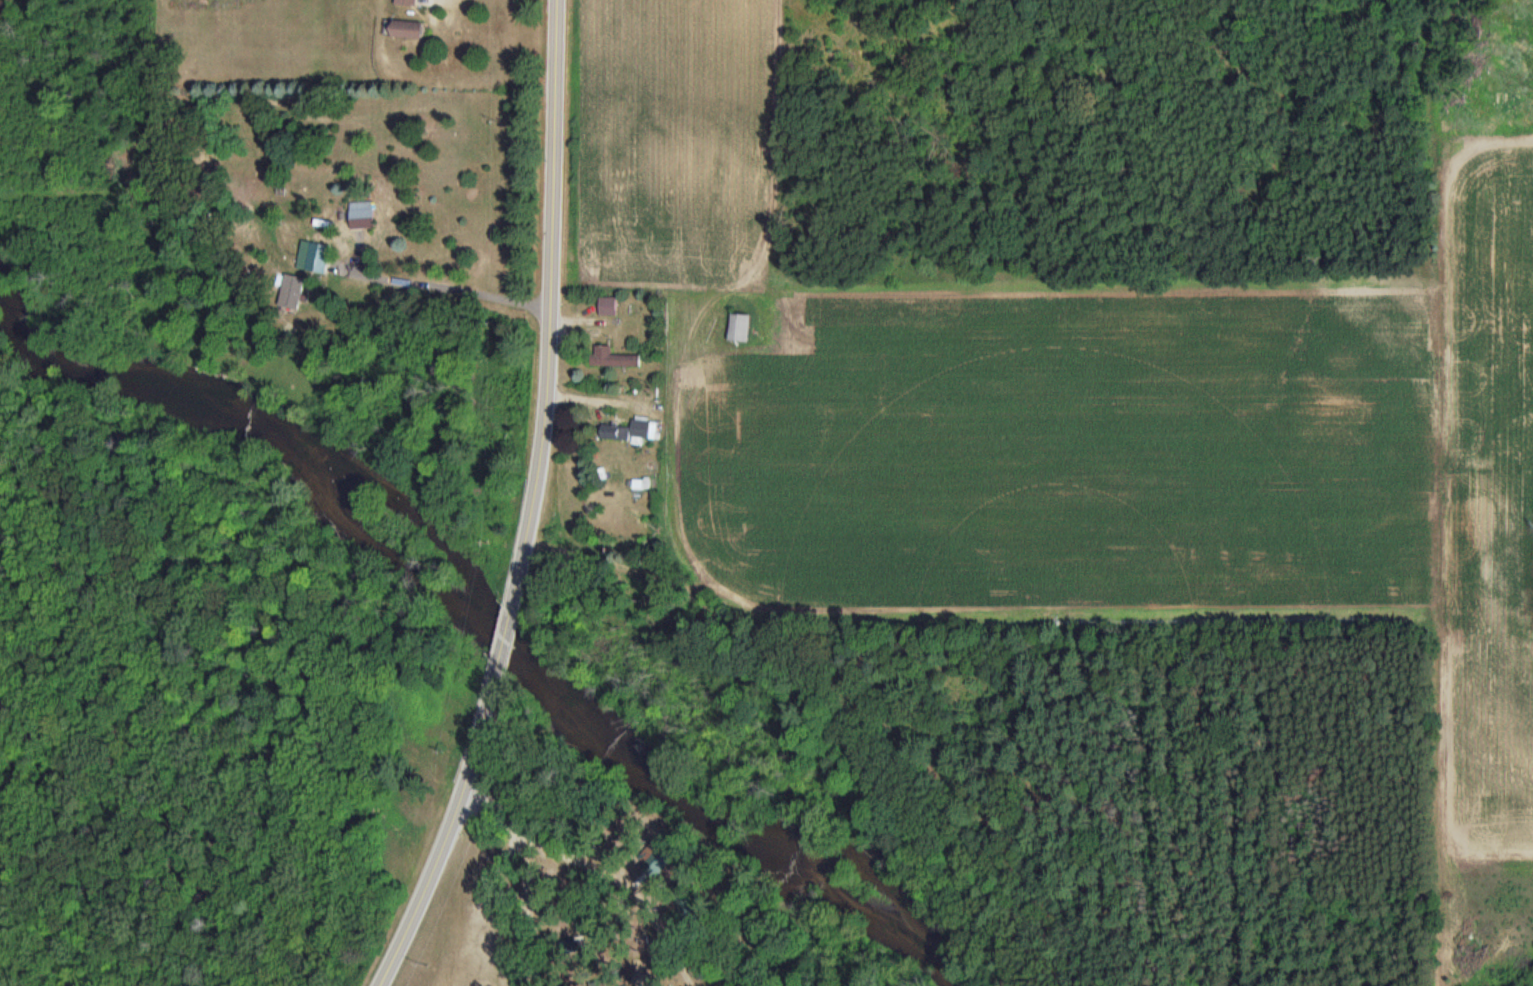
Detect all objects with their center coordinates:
road: (437, 1)
building: (407, 2)
building: (408, 30)
building: (363, 218)
road: (444, 284)
road: (550, 305)
building: (608, 306)
building: (740, 326)
building: (613, 357)
river: (154, 382)
building: (631, 431)
road: (505, 635)
river: (704, 811)
park: (947, 811)
road: (449, 828)
building: (661, 854)
road: (523, 873)
road: (626, 882)
road: (579, 897)
building: (686, 898)
building: (705, 955)
park: (465, 985)

